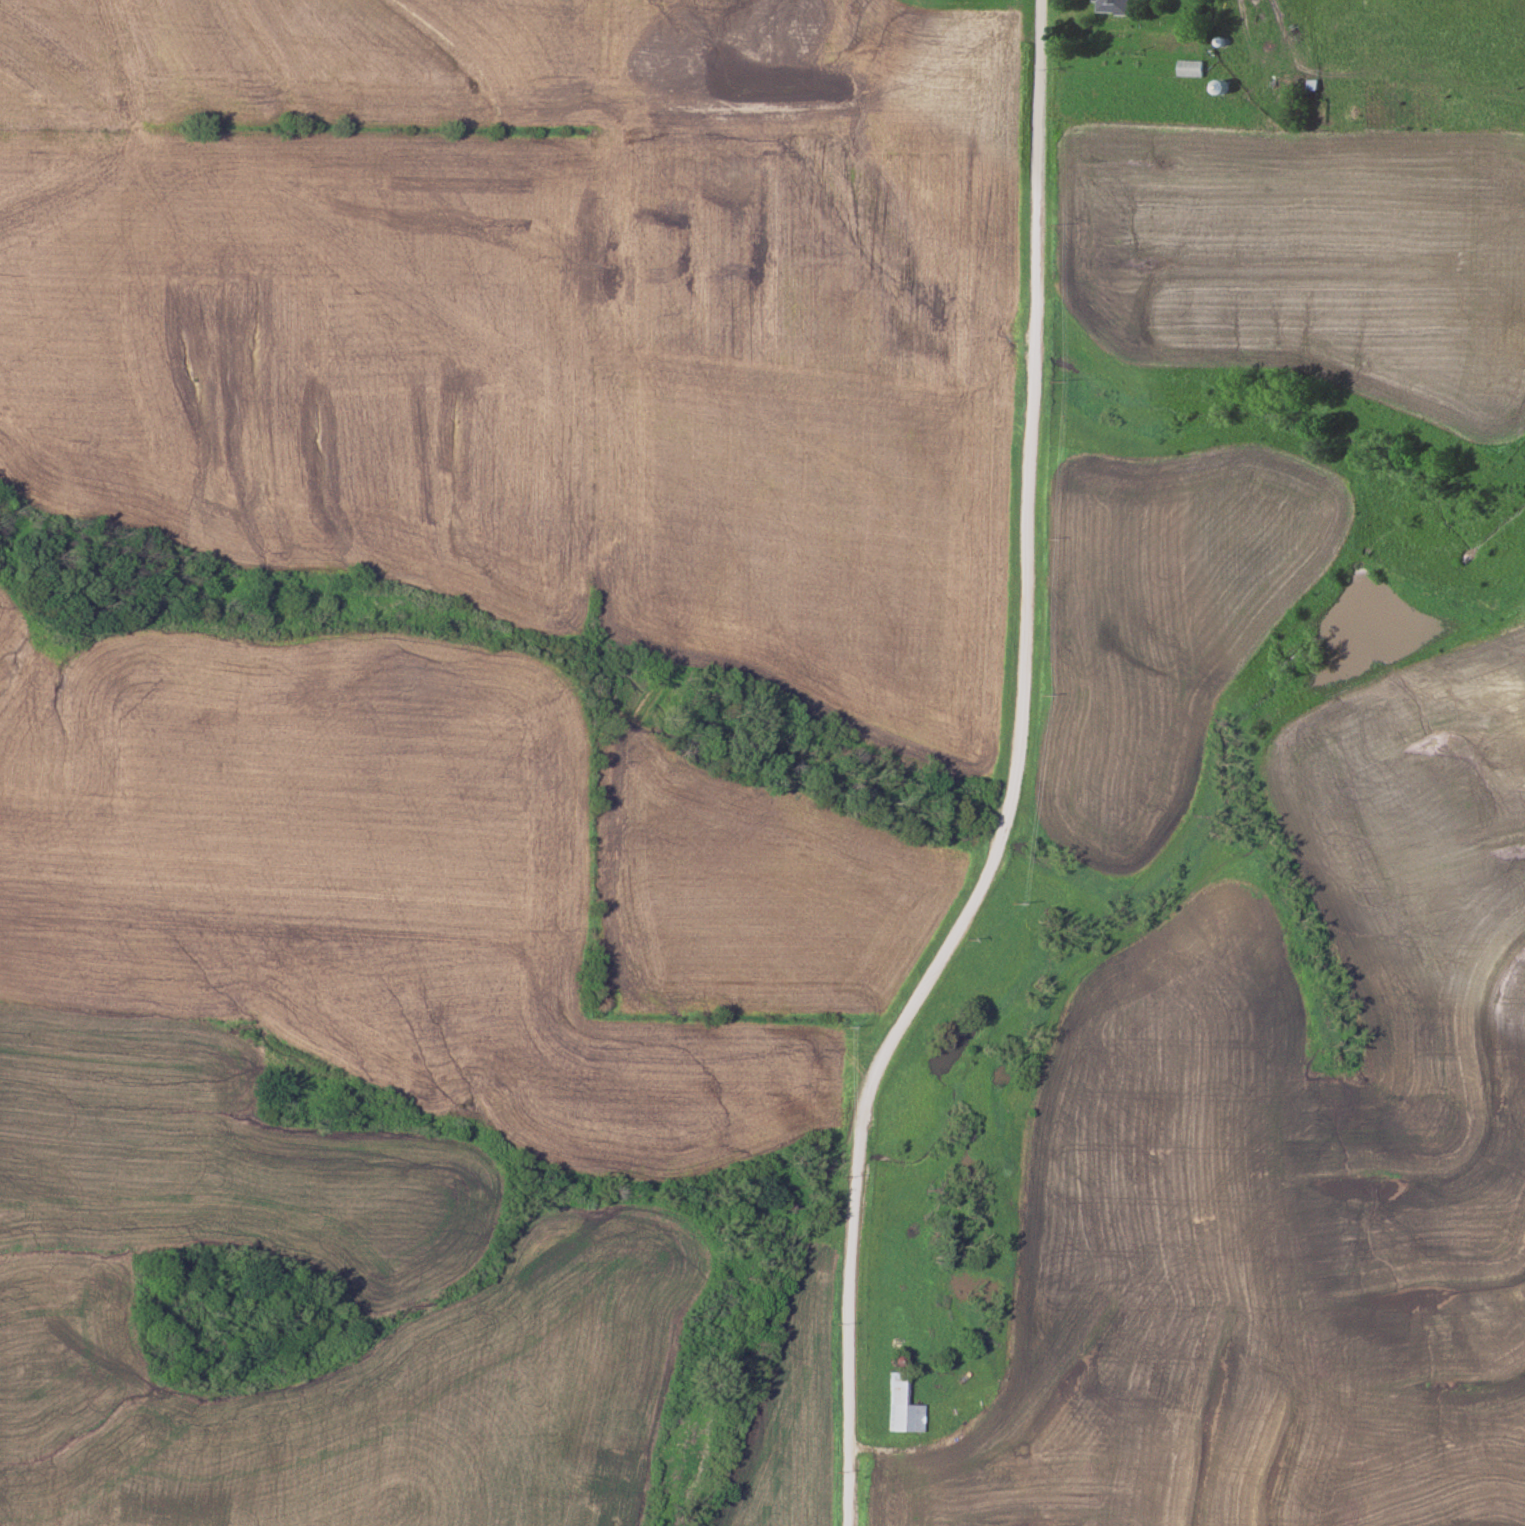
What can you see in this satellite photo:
building: (1111, 7)
building: (1188, 68)
road: (1017, 781)
crop: (1288, 1172)
building: (900, 1406)

